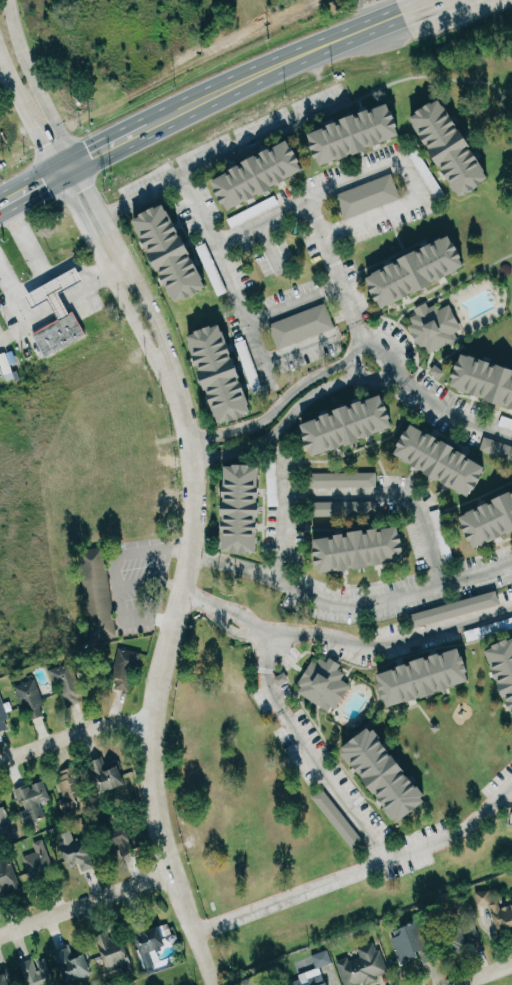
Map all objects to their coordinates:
road: (451, 1)
road: (44, 85)
road: (30, 97)
road: (220, 101)
building: (362, 134)
road: (257, 137)
building: (457, 147)
road: (402, 166)
building: (266, 175)
building: (370, 196)
road: (196, 209)
road: (314, 220)
road: (27, 243)
building: (177, 253)
road: (72, 262)
road: (130, 264)
building: (425, 271)
road: (111, 274)
road: (299, 303)
road: (21, 309)
building: (67, 313)
building: (304, 326)
building: (437, 327)
road: (297, 347)
road: (378, 356)
building: (10, 364)
building: (440, 371)
building: (227, 374)
road: (373, 374)
building: (486, 379)
road: (273, 409)
road: (449, 412)
building: (356, 425)
road: (279, 426)
building: (498, 447)
building: (445, 459)
building: (345, 479)
building: (274, 486)
road: (392, 494)
building: (342, 509)
building: (248, 510)
building: (492, 523)
building: (440, 537)
building: (361, 551)
road: (126, 558)
road: (231, 563)
building: (95, 588)
road: (331, 600)
building: (453, 611)
road: (222, 613)
road: (389, 640)
building: (503, 667)
building: (124, 671)
road: (160, 678)
building: (425, 680)
building: (323, 684)
building: (66, 685)
building: (29, 699)
building: (3, 719)
road: (73, 736)
road: (310, 751)
building: (105, 776)
building: (385, 776)
building: (69, 785)
building: (30, 800)
building: (336, 820)
building: (6, 822)
building: (115, 837)
building: (79, 855)
building: (36, 860)
road: (358, 868)
building: (8, 880)
road: (84, 901)
building: (496, 911)
building: (148, 938)
building: (458, 938)
building: (411, 943)
building: (111, 949)
building: (71, 964)
building: (362, 966)
building: (36, 972)
road: (487, 976)
building: (4, 979)
building: (312, 980)
building: (249, 982)

